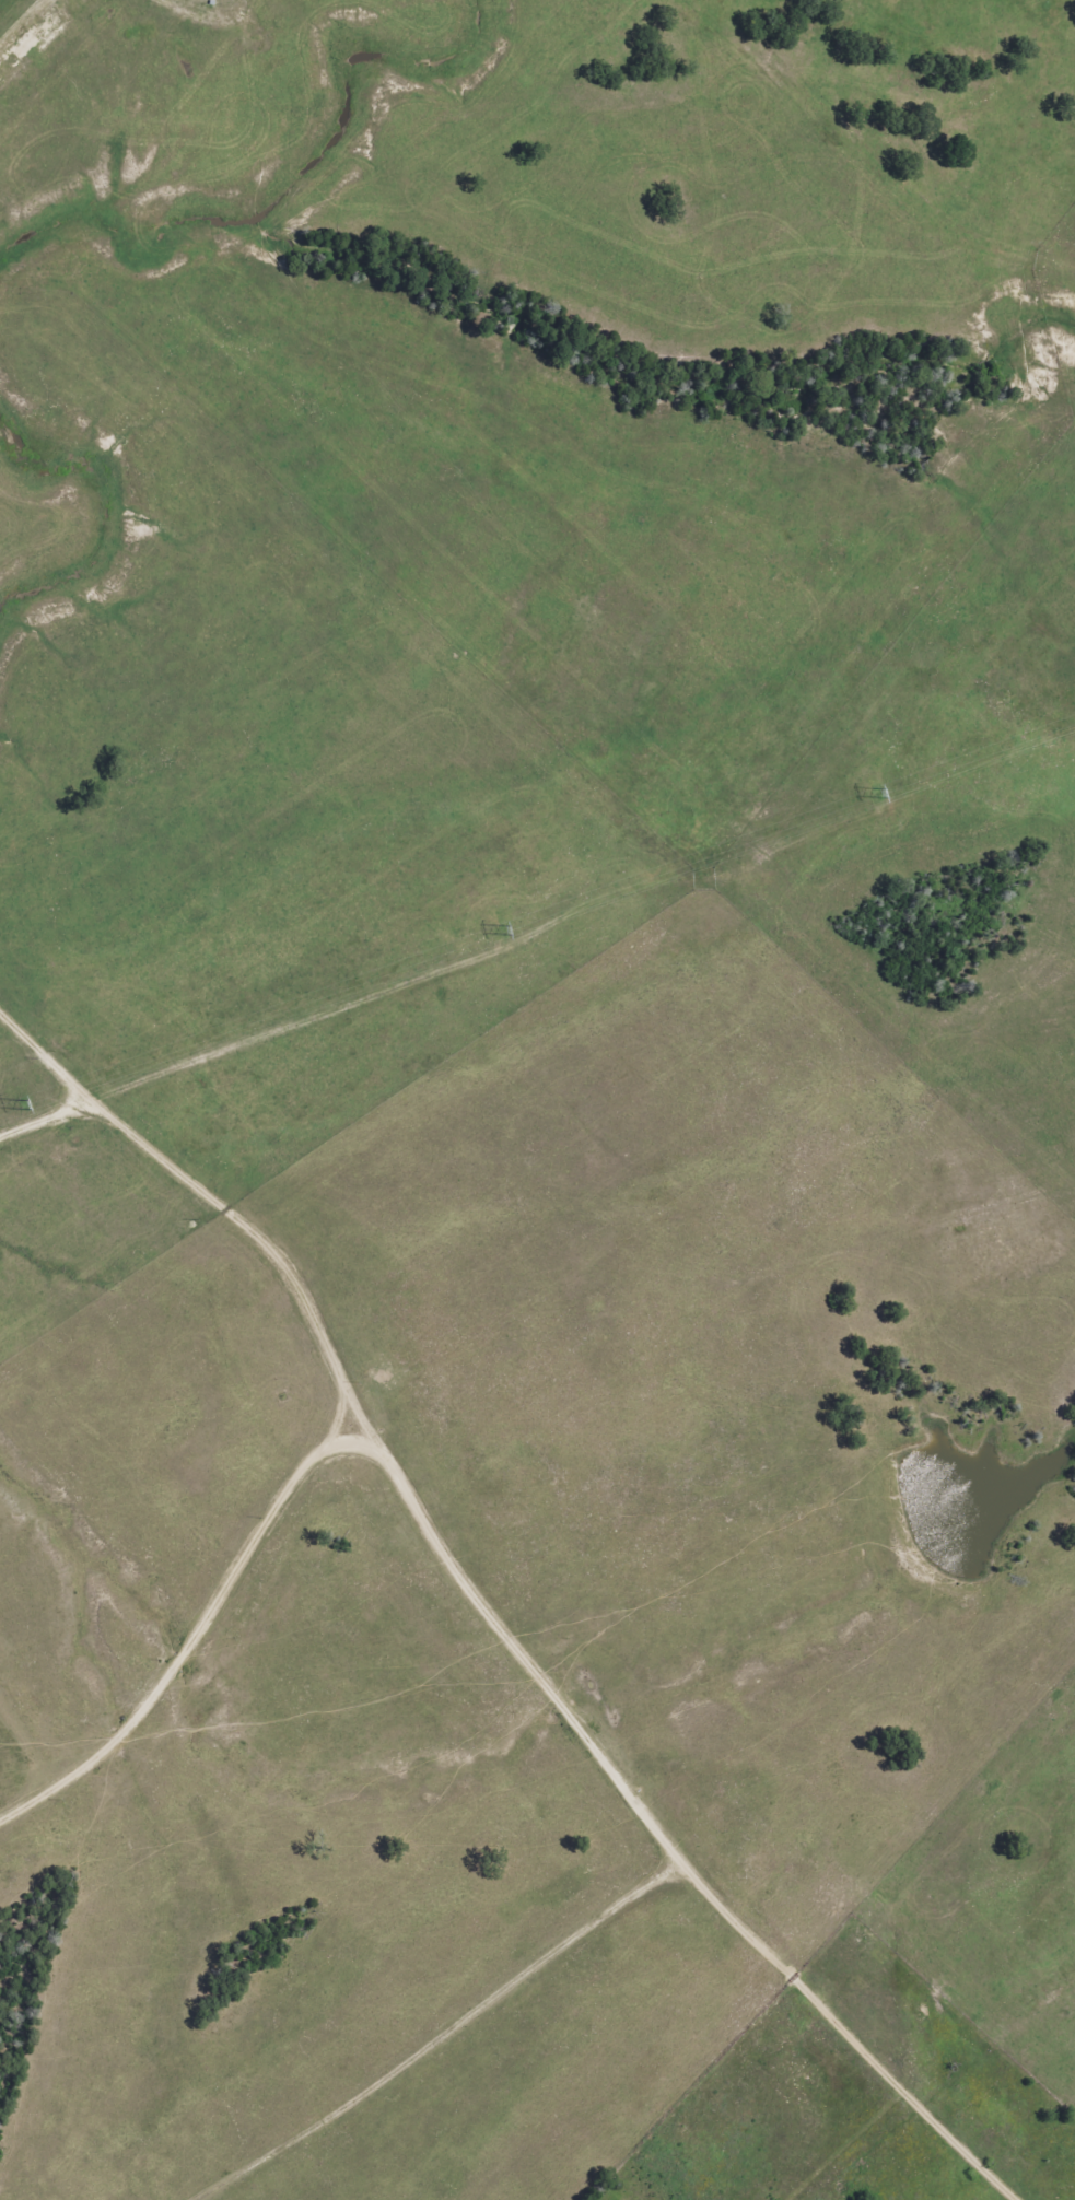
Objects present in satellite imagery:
road: (25, 19)
power tower: (891, 795)
power tower: (504, 934)
road: (58, 1074)
power tower: (30, 1105)
road: (203, 1623)
road: (507, 1628)
road: (444, 2027)

